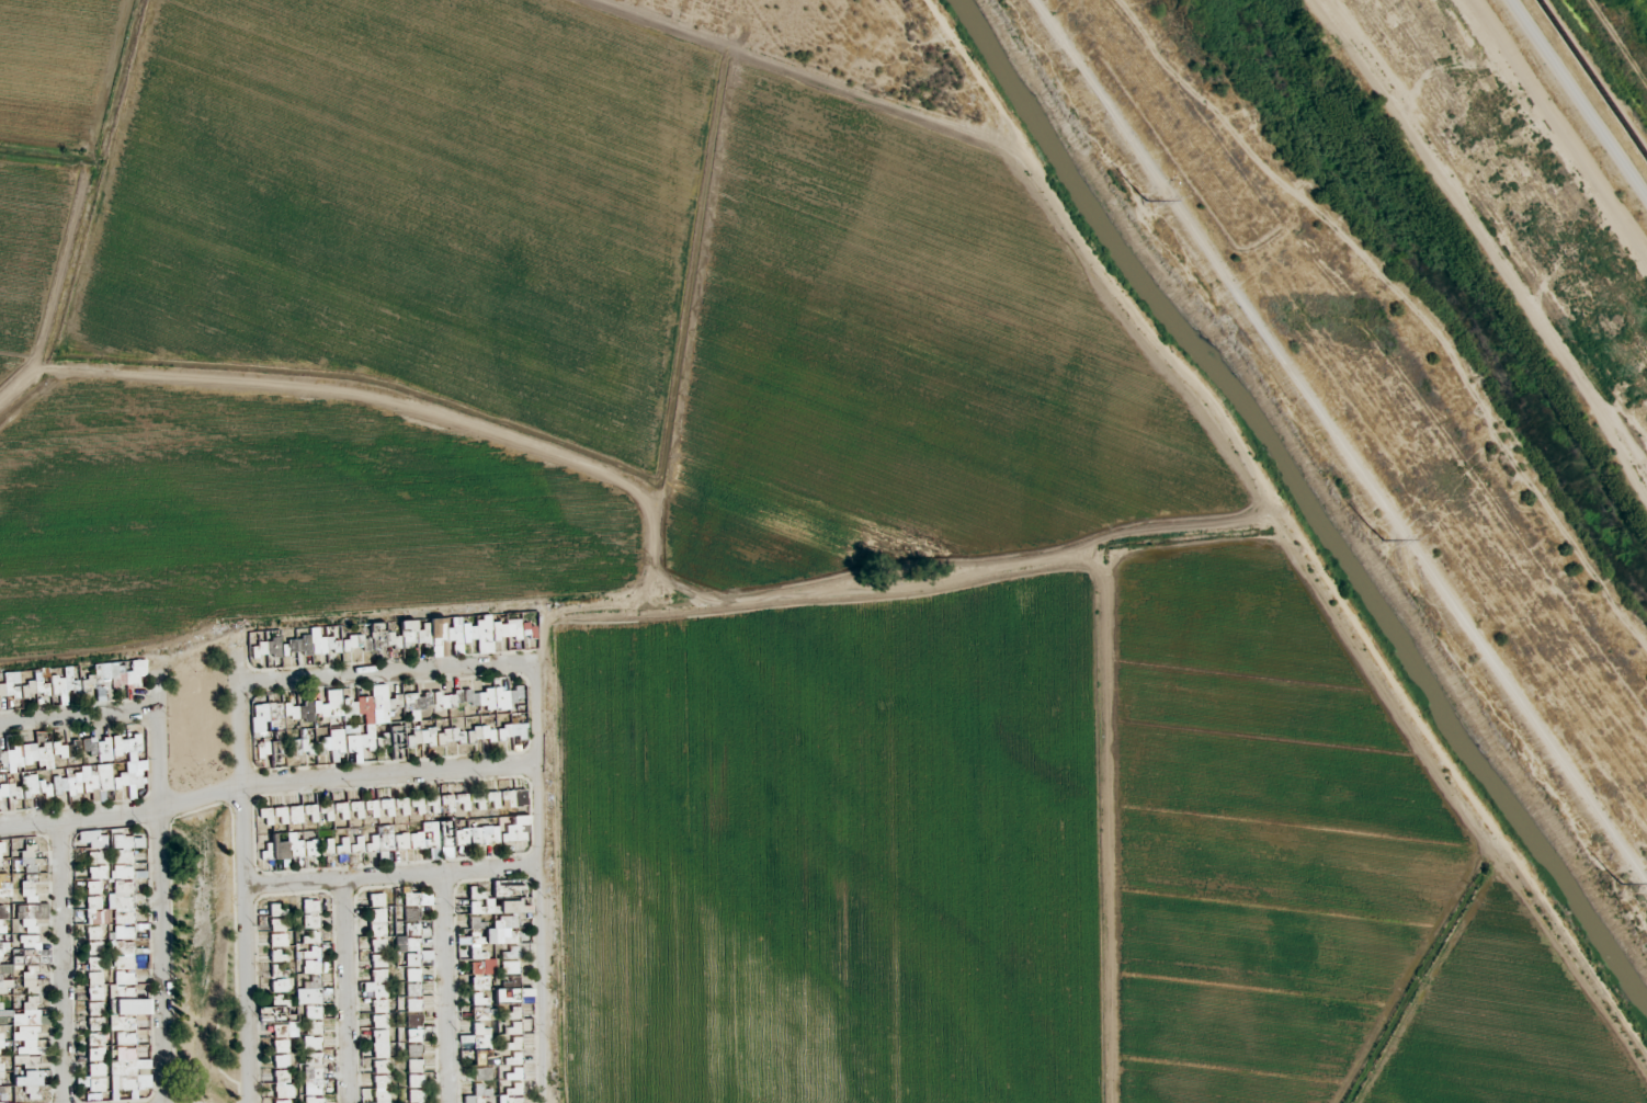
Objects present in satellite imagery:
power tower: (1139, 200)
river: (1449, 275)
road: (1339, 444)
road: (654, 518)
road: (1288, 528)
power tower: (1373, 537)
building: (462, 632)
building: (414, 637)
road: (387, 675)
building: (475, 705)
road: (79, 720)
building: (424, 738)
road: (266, 786)
building: (516, 833)
road: (390, 878)
road: (245, 879)
power tower: (1612, 883)
road: (537, 888)
road: (159, 890)
road: (446, 989)
road: (348, 992)

